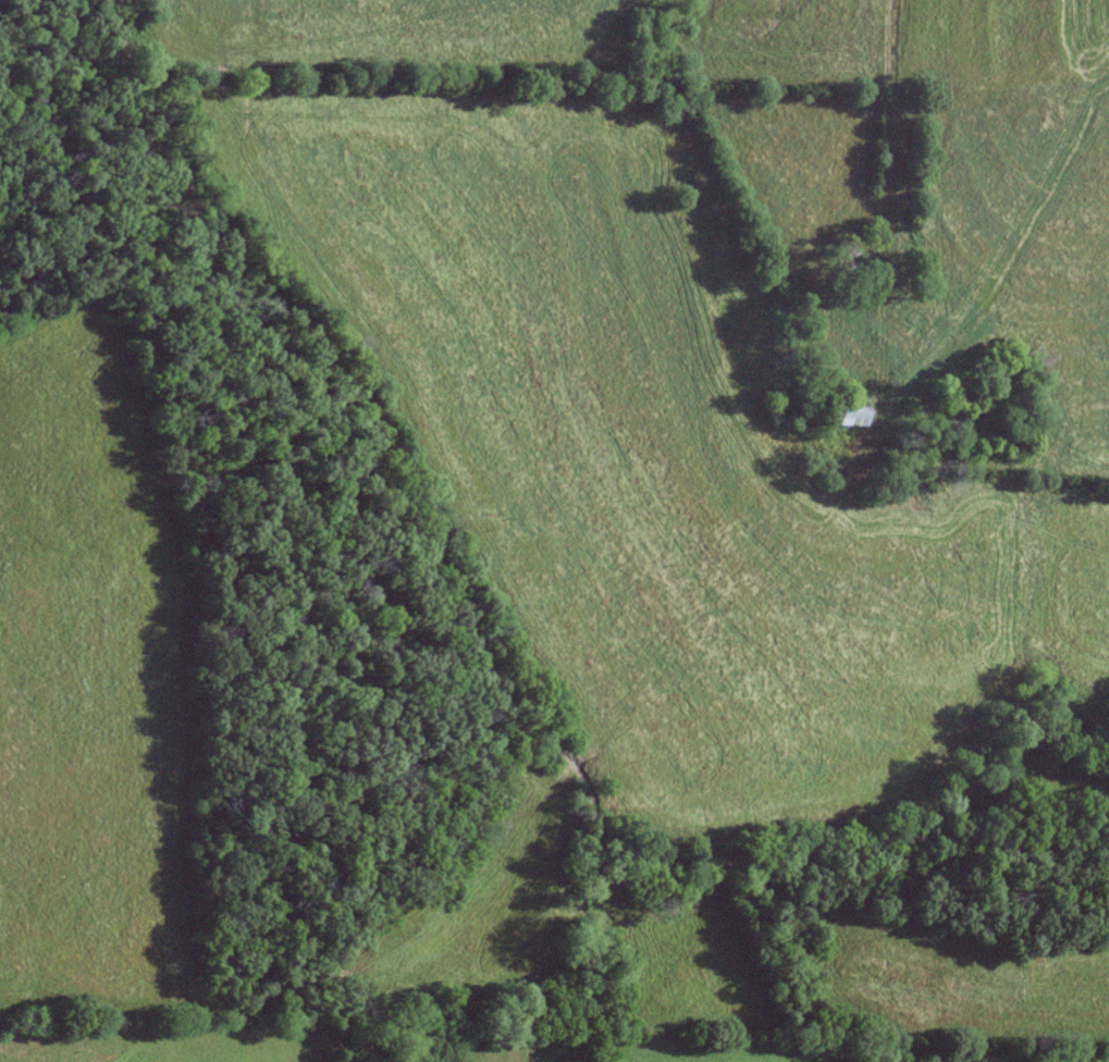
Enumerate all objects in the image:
building: (848, 412)

